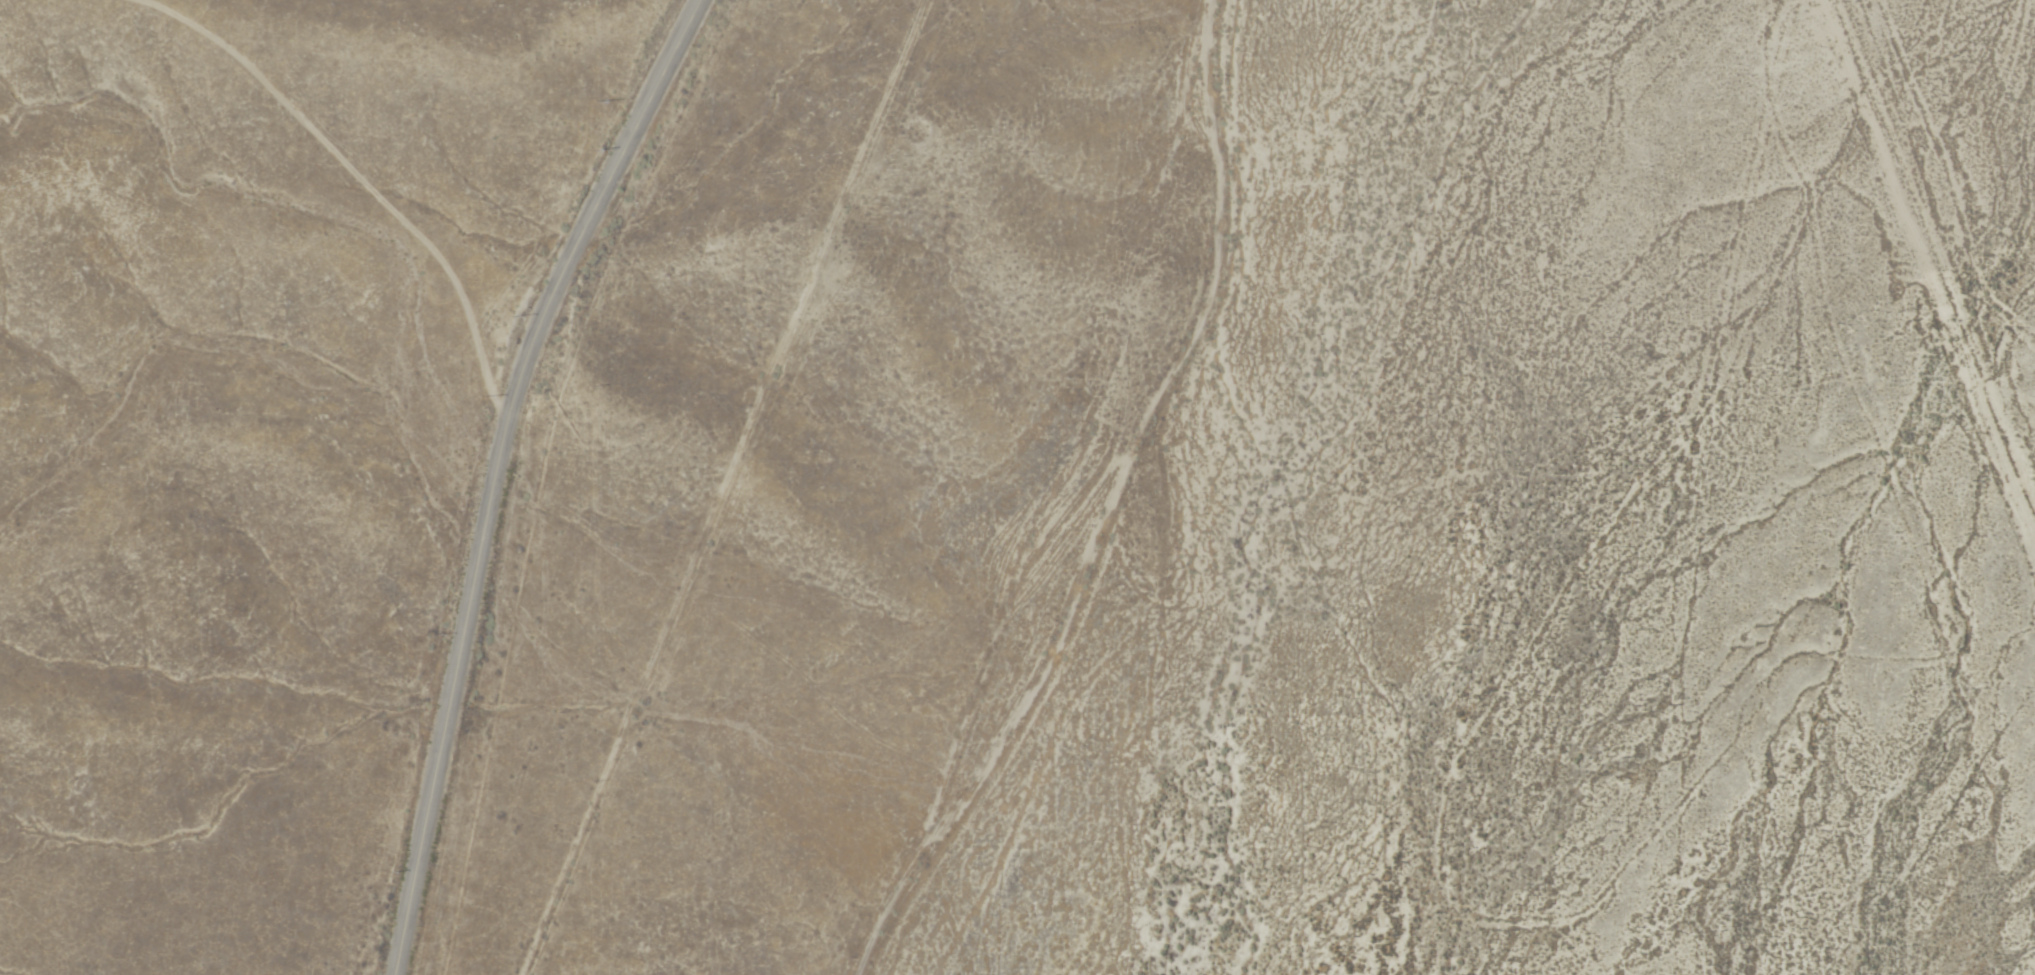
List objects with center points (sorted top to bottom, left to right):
road: (502, 472)
road: (1102, 496)

